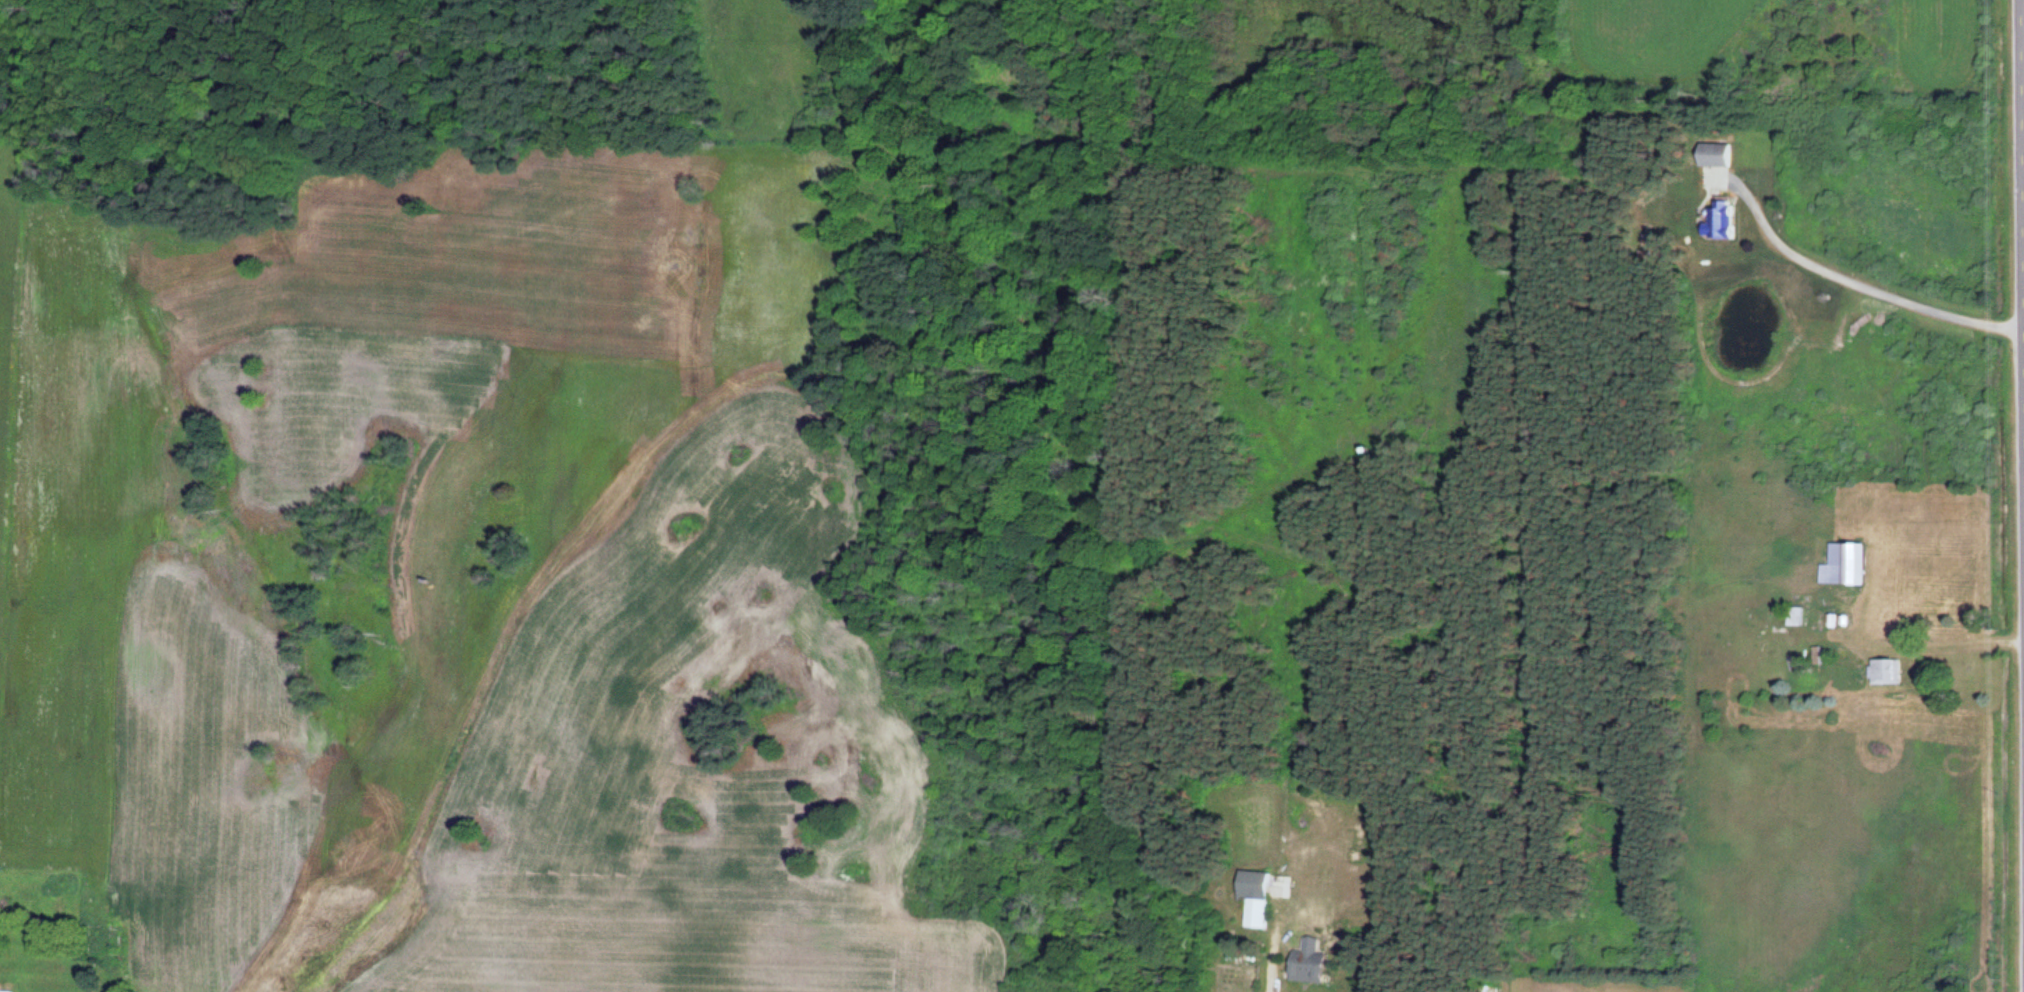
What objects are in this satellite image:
building: (1723, 155)
building: (1728, 219)
road: (2015, 392)
building: (1850, 565)
building: (1891, 672)
building: (1262, 897)
building: (1313, 967)

